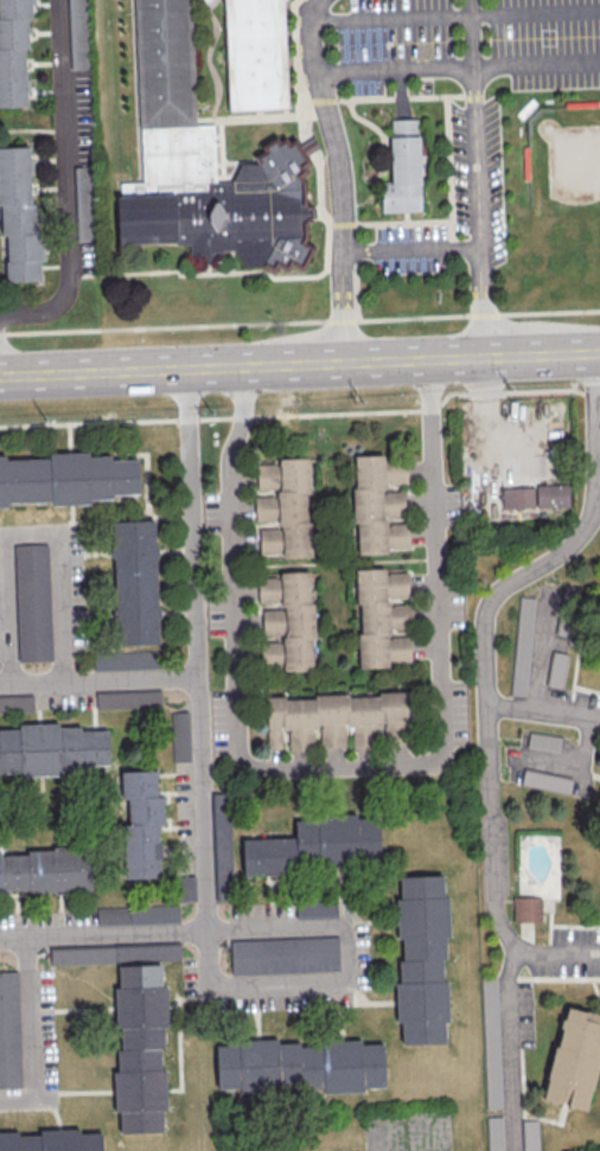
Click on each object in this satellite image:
road: (457, 15)
building: (77, 34)
road: (470, 34)
road: (313, 36)
building: (13, 52)
building: (257, 55)
building: (165, 64)
road: (536, 68)
road: (394, 73)
building: (404, 172)
road: (66, 179)
building: (204, 200)
building: (84, 203)
park: (576, 204)
building: (18, 212)
road: (478, 215)
road: (342, 218)
road: (411, 250)
road: (325, 262)
road: (300, 322)
road: (299, 365)
road: (12, 367)
road: (593, 411)
road: (304, 415)
road: (68, 437)
road: (133, 456)
building: (130, 474)
building: (117, 475)
building: (69, 478)
building: (13, 480)
building: (551, 494)
building: (517, 497)
road: (147, 504)
building: (378, 505)
building: (283, 507)
road: (170, 513)
road: (71, 514)
road: (30, 533)
road: (173, 549)
building: (133, 550)
road: (97, 552)
parking lot: (65, 584)
building: (31, 601)
parking lot: (31, 601)
building: (135, 612)
road: (175, 612)
road: (100, 615)
building: (382, 616)
building: (286, 620)
building: (522, 645)
road: (197, 650)
road: (543, 650)
building: (127, 659)
parking lot: (127, 659)
building: (556, 669)
road: (98, 678)
building: (128, 698)
parking lot: (128, 698)
parking lot: (64, 701)
road: (37, 702)
road: (92, 702)
building: (15, 703)
parking lot: (15, 703)
road: (486, 703)
road: (543, 711)
building: (332, 718)
road: (101, 724)
road: (87, 725)
building: (180, 735)
parking lot: (180, 735)
building: (543, 741)
building: (88, 747)
building: (101, 747)
building: (40, 749)
road: (342, 767)
road: (178, 773)
building: (138, 775)
building: (545, 780)
building: (138, 789)
road: (179, 792)
road: (167, 798)
building: (145, 802)
building: (145, 817)
parking lot: (184, 817)
road: (168, 819)
road: (180, 825)
building: (140, 830)
building: (337, 839)
building: (141, 844)
road: (180, 845)
building: (222, 845)
parking lot: (222, 845)
road: (164, 852)
building: (289, 853)
building: (262, 855)
building: (275, 855)
building: (248, 856)
building: (141, 857)
building: (59, 868)
building: (23, 870)
building: (8, 871)
building: (141, 871)
road: (181, 871)
building: (0, 874)
road: (266, 877)
road: (274, 878)
road: (339, 883)
road: (292, 884)
road: (249, 887)
building: (186, 888)
parking lot: (186, 888)
road: (270, 891)
road: (8, 894)
road: (24, 894)
building: (315, 908)
parking lot: (315, 908)
building: (528, 910)
road: (60, 913)
building: (136, 913)
parking lot: (136, 913)
road: (15, 915)
parking lot: (46, 917)
building: (422, 917)
road: (381, 920)
road: (103, 934)
building: (114, 954)
parking lot: (114, 954)
building: (283, 954)
parking lot: (283, 954)
parking lot: (352, 955)
road: (556, 955)
road: (347, 981)
building: (421, 1000)
road: (368, 1002)
road: (172, 1005)
building: (140, 1006)
road: (84, 1009)
road: (339, 1022)
road: (256, 1023)
building: (9, 1030)
parking lot: (9, 1030)
road: (177, 1030)
road: (27, 1031)
parking lot: (36, 1040)
building: (490, 1042)
road: (511, 1049)
building: (574, 1057)
building: (257, 1064)
building: (340, 1066)
road: (173, 1088)
building: (139, 1089)
road: (85, 1091)
road: (56, 1115)
building: (529, 1134)
building: (8, 1140)
building: (59, 1140)

